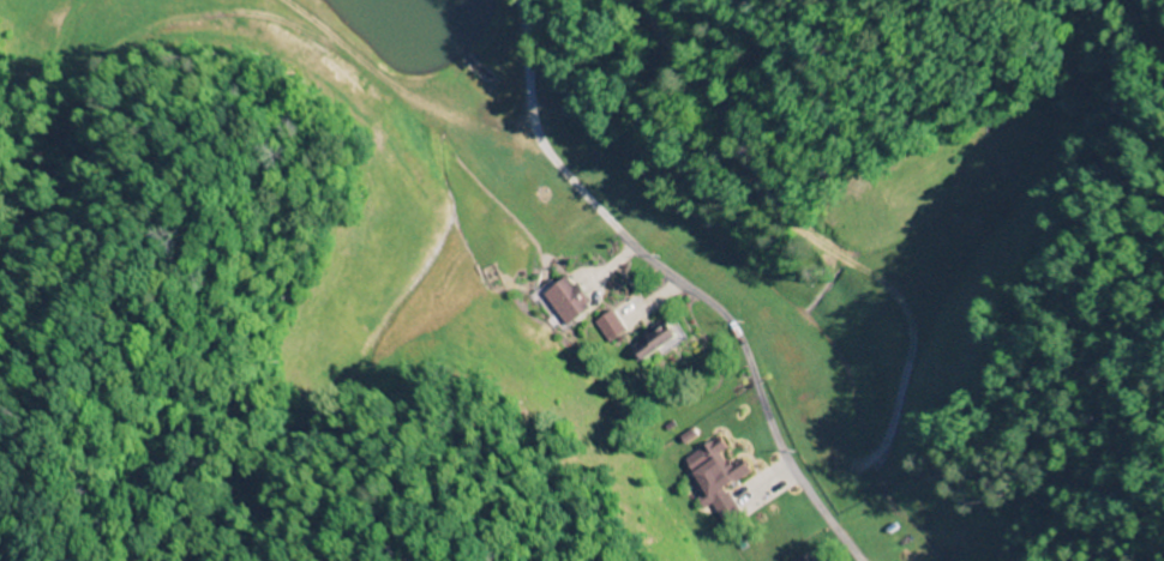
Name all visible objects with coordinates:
building: (659, 339)
road: (804, 488)
building: (809, 559)

